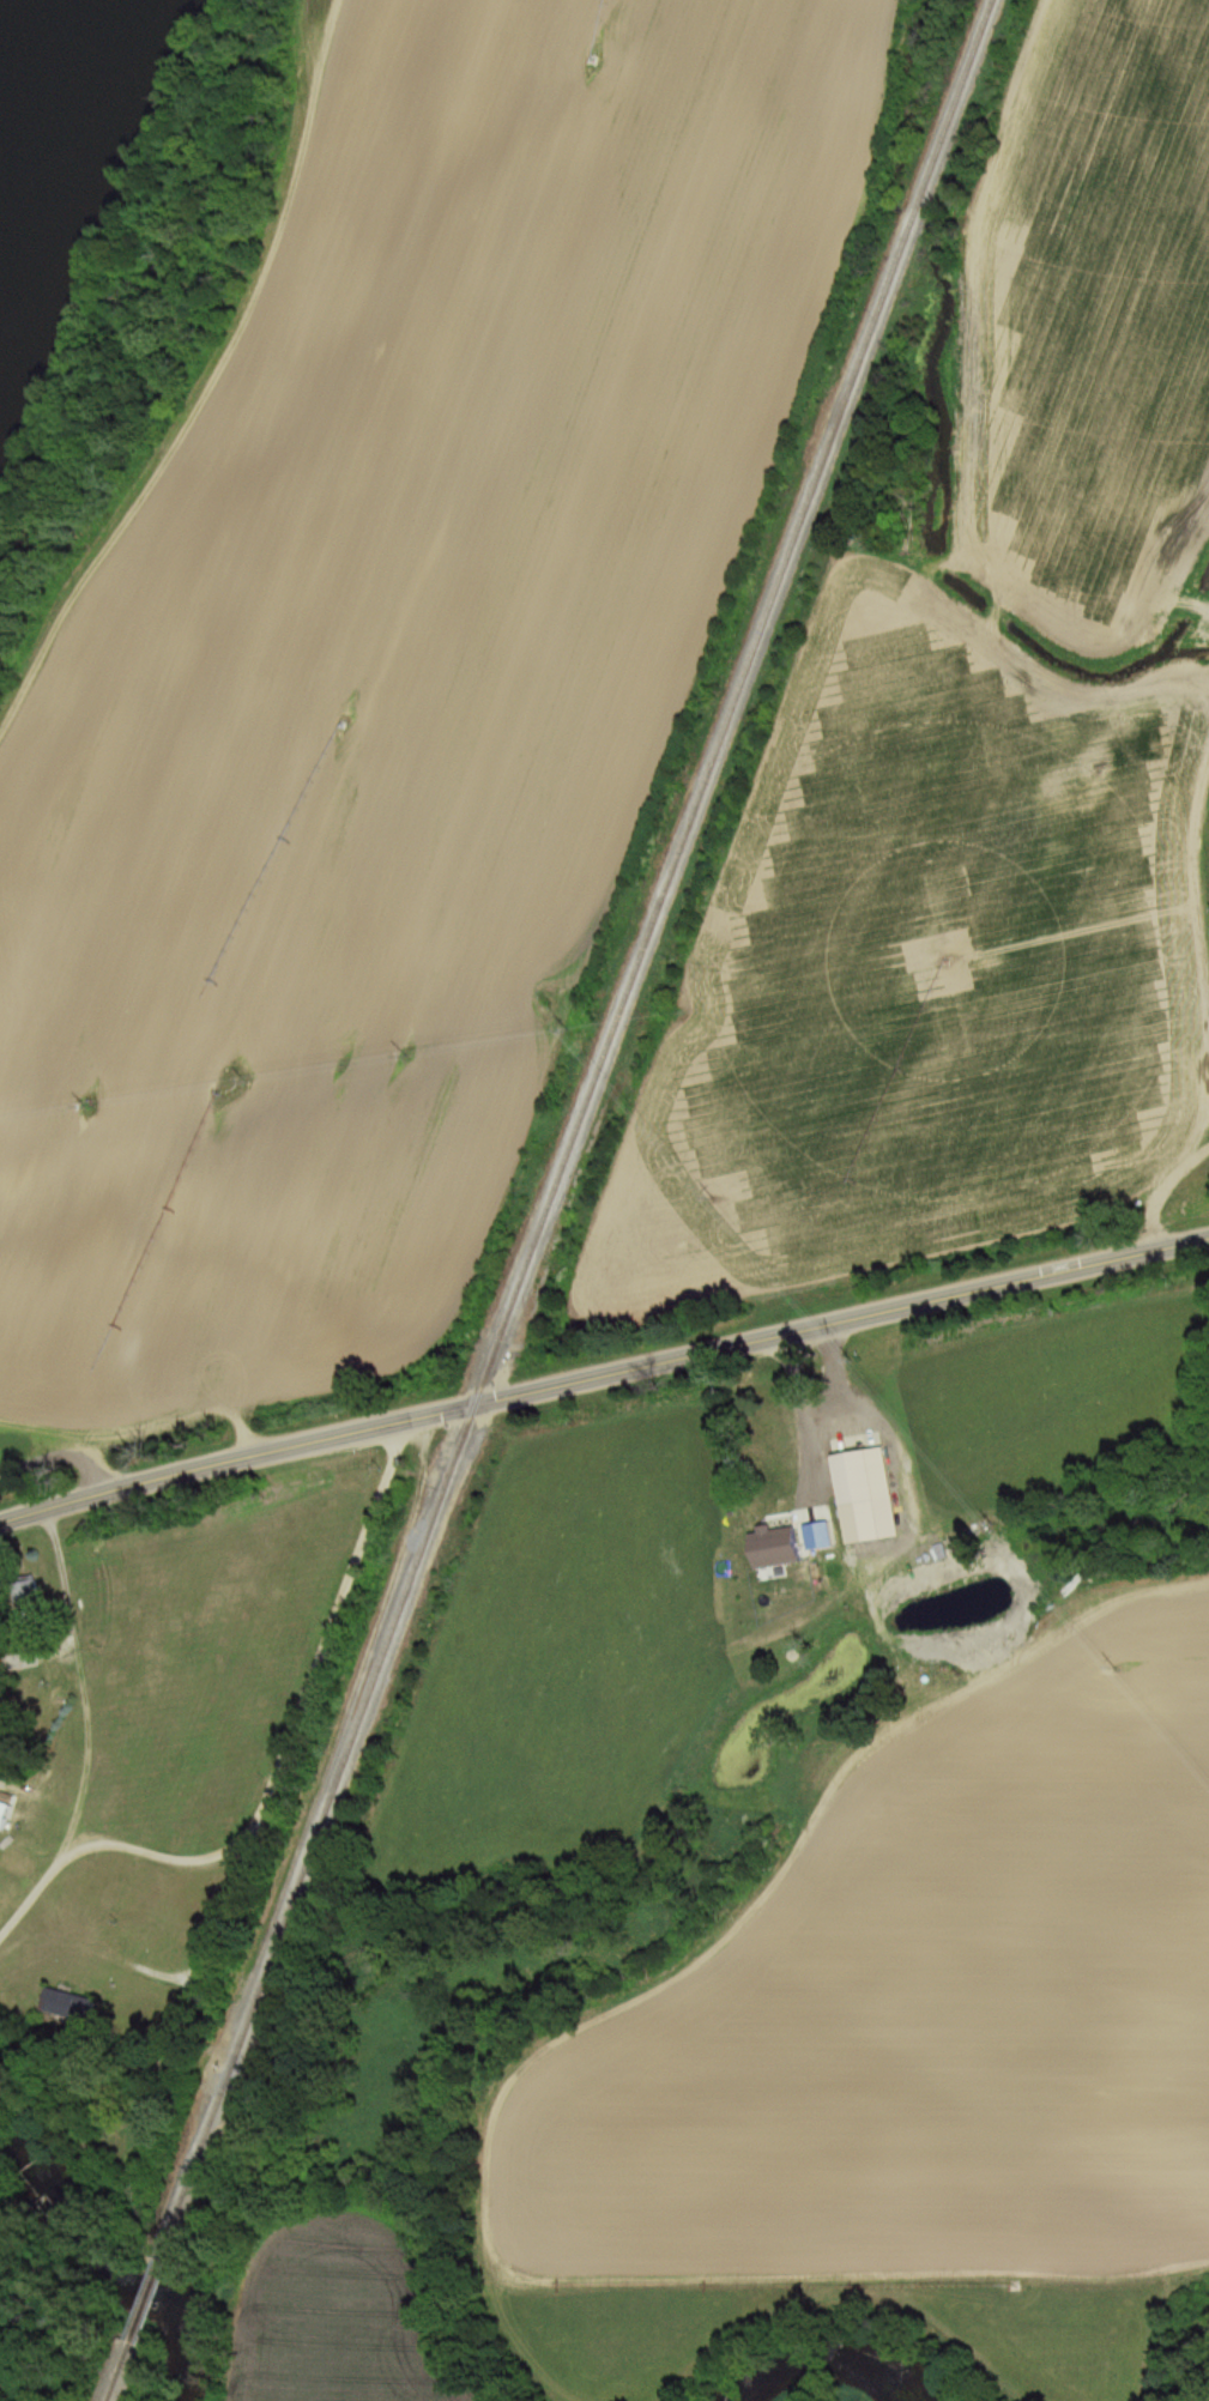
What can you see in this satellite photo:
river: (31, 37)
railway: (574, 1119)
road: (1157, 1191)
road: (603, 1377)
road: (824, 1411)
building: (787, 1438)
building: (854, 1478)
road: (211, 1853)
road: (36, 1882)
road: (214, 1923)
building: (74, 2004)
river: (113, 2255)
railway: (147, 2290)
river: (827, 2363)
railway: (117, 2370)

